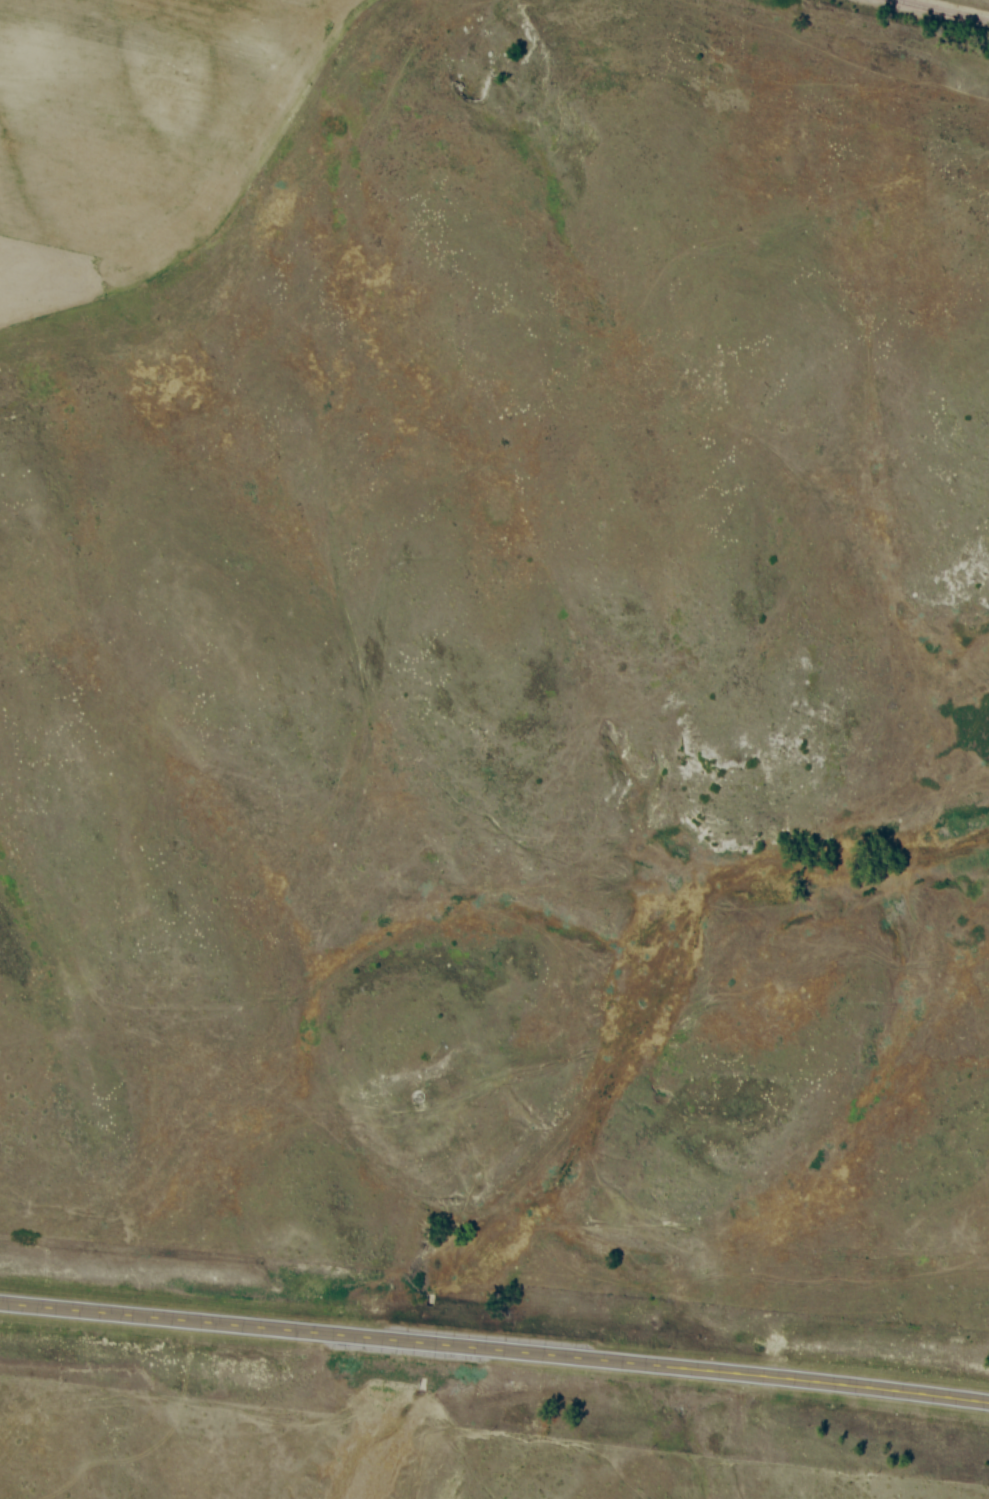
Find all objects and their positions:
railway: (941, 11)
crop: (139, 135)
road: (494, 1355)

